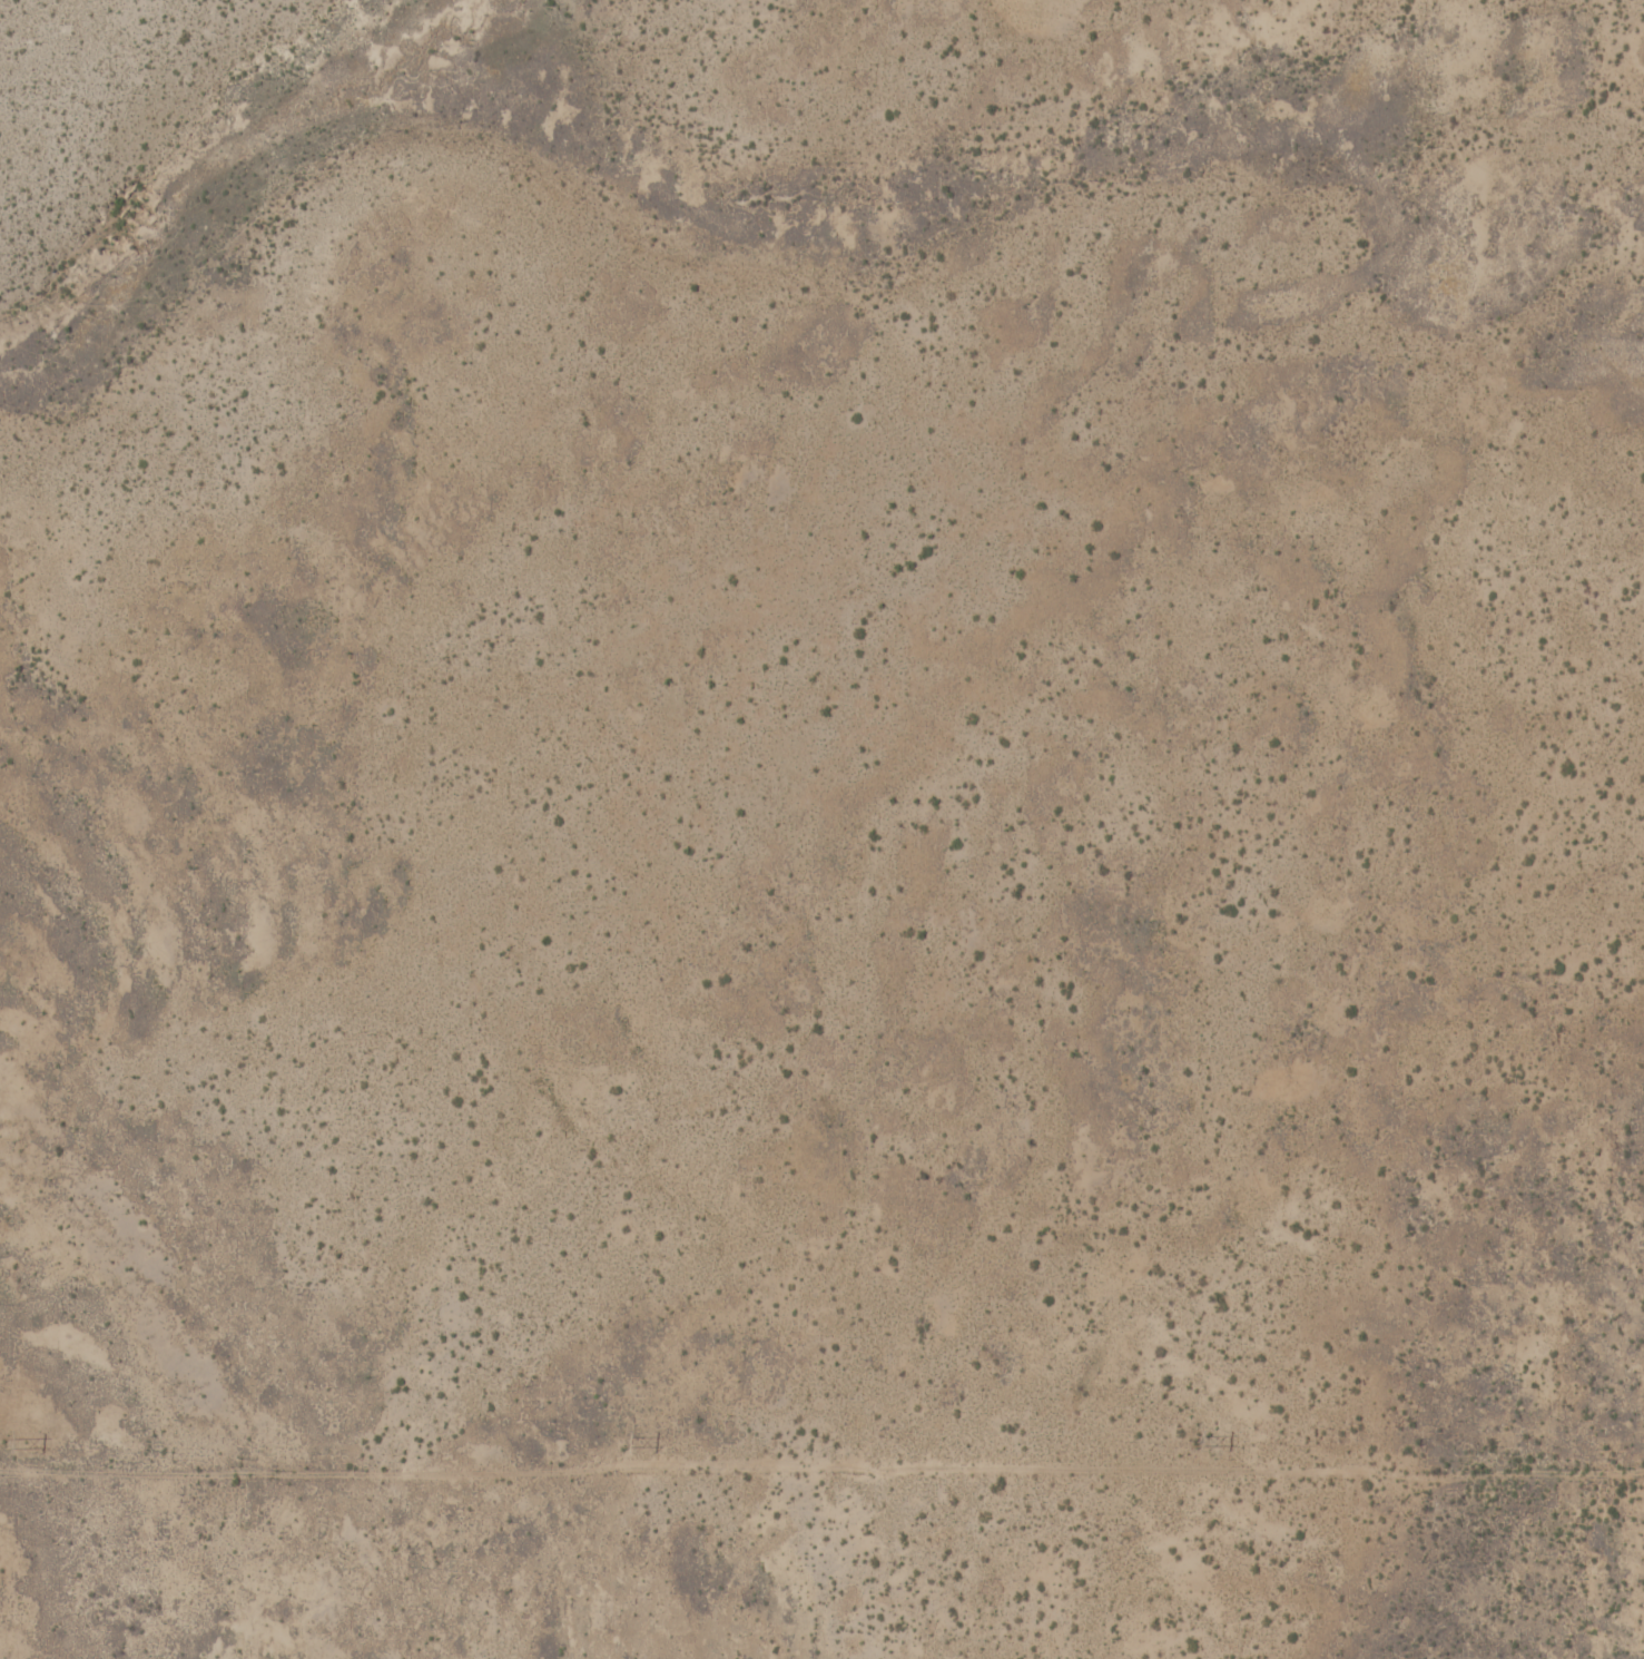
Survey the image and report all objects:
power tower: (1192, 1437)
power tower: (3, 1446)
power tower: (619, 1446)
road: (821, 1473)

